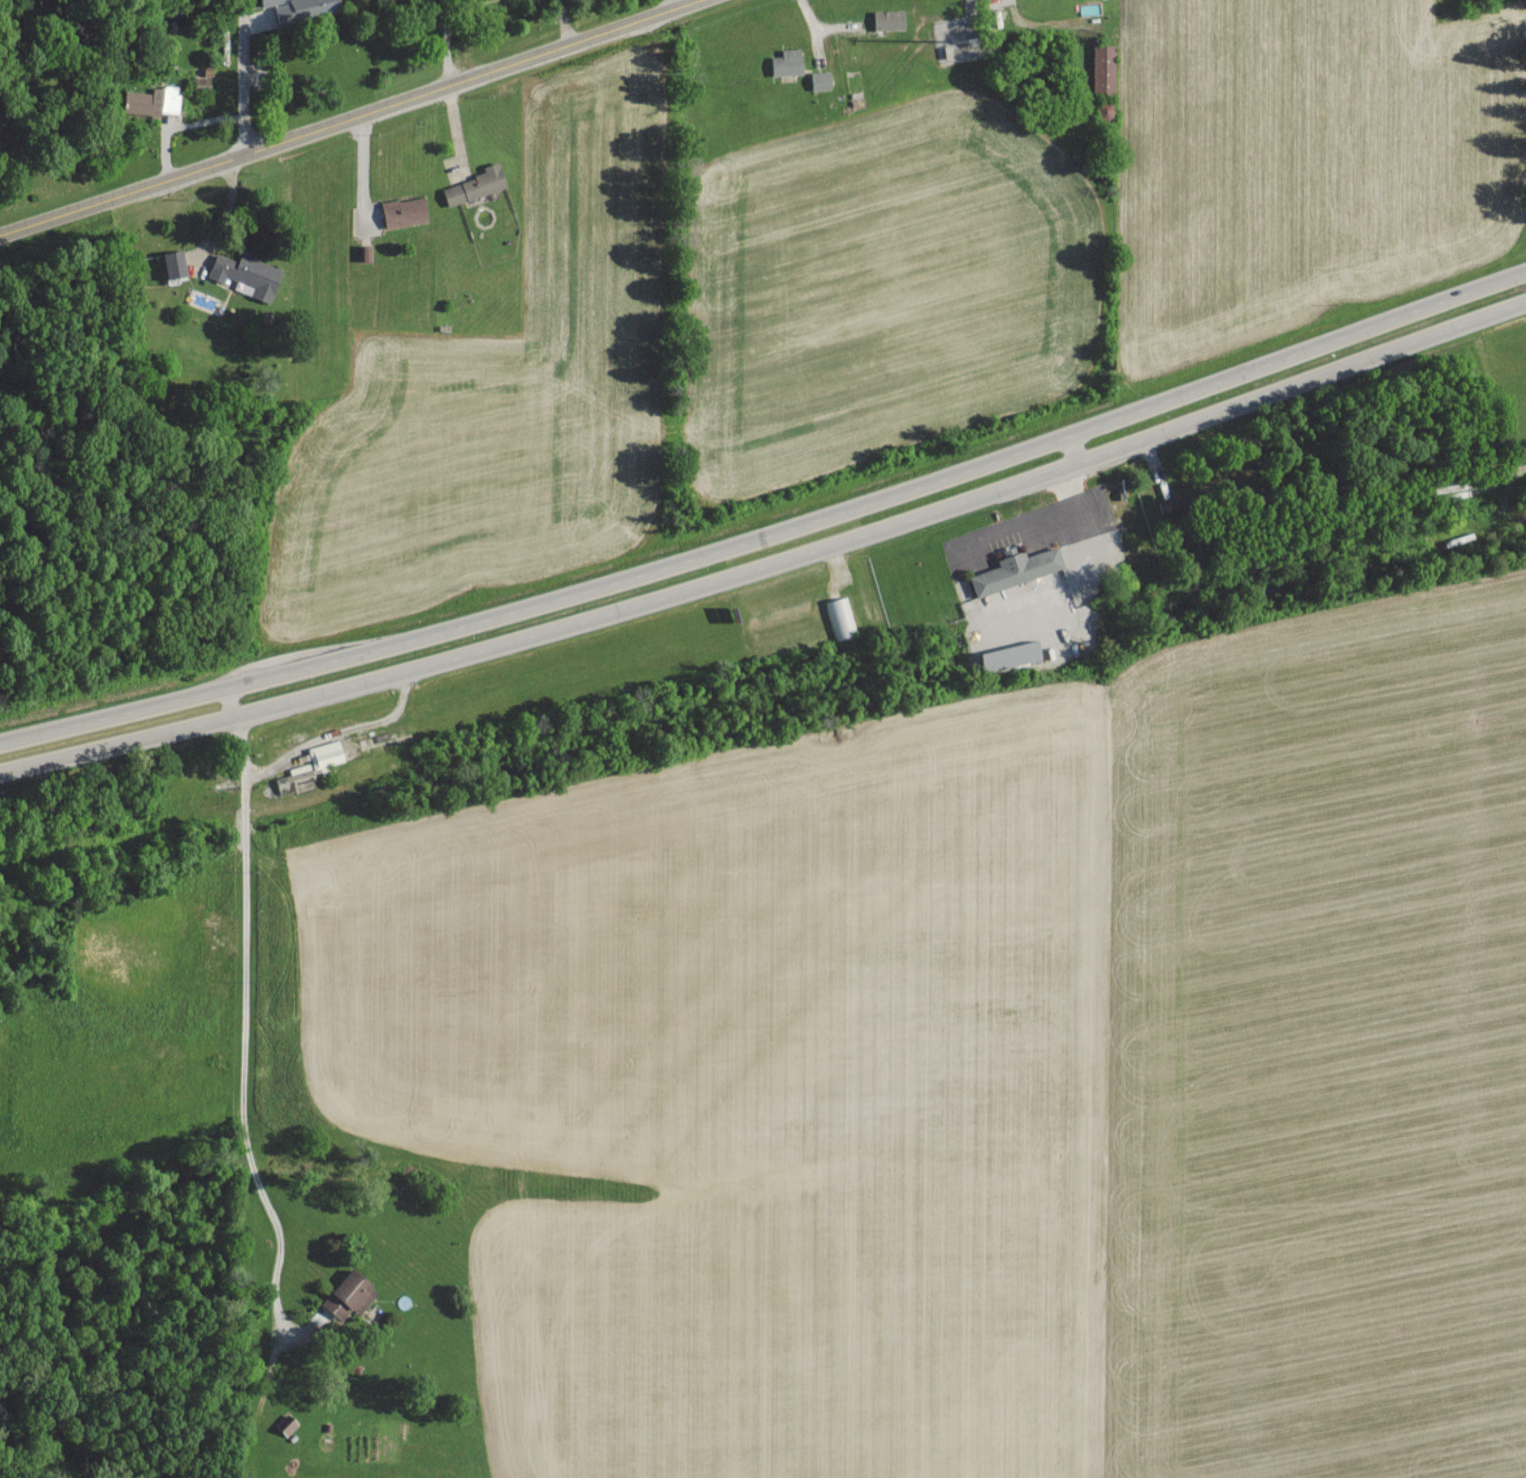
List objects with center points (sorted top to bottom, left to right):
building: (388, 0)
building: (269, 2)
road: (672, 5)
building: (305, 10)
building: (889, 19)
road: (1041, 25)
road: (816, 38)
building: (787, 62)
building: (1103, 67)
road: (245, 78)
building: (820, 79)
building: (152, 100)
road: (352, 119)
road: (364, 182)
building: (476, 184)
building: (404, 211)
building: (174, 263)
building: (246, 274)
road: (1076, 444)
building: (1171, 508)
road: (771, 531)
road: (771, 558)
building: (1016, 569)
building: (1010, 655)
road: (227, 700)
building: (325, 753)
road: (216, 988)
road: (245, 1131)
building: (349, 1295)
building: (286, 1424)

